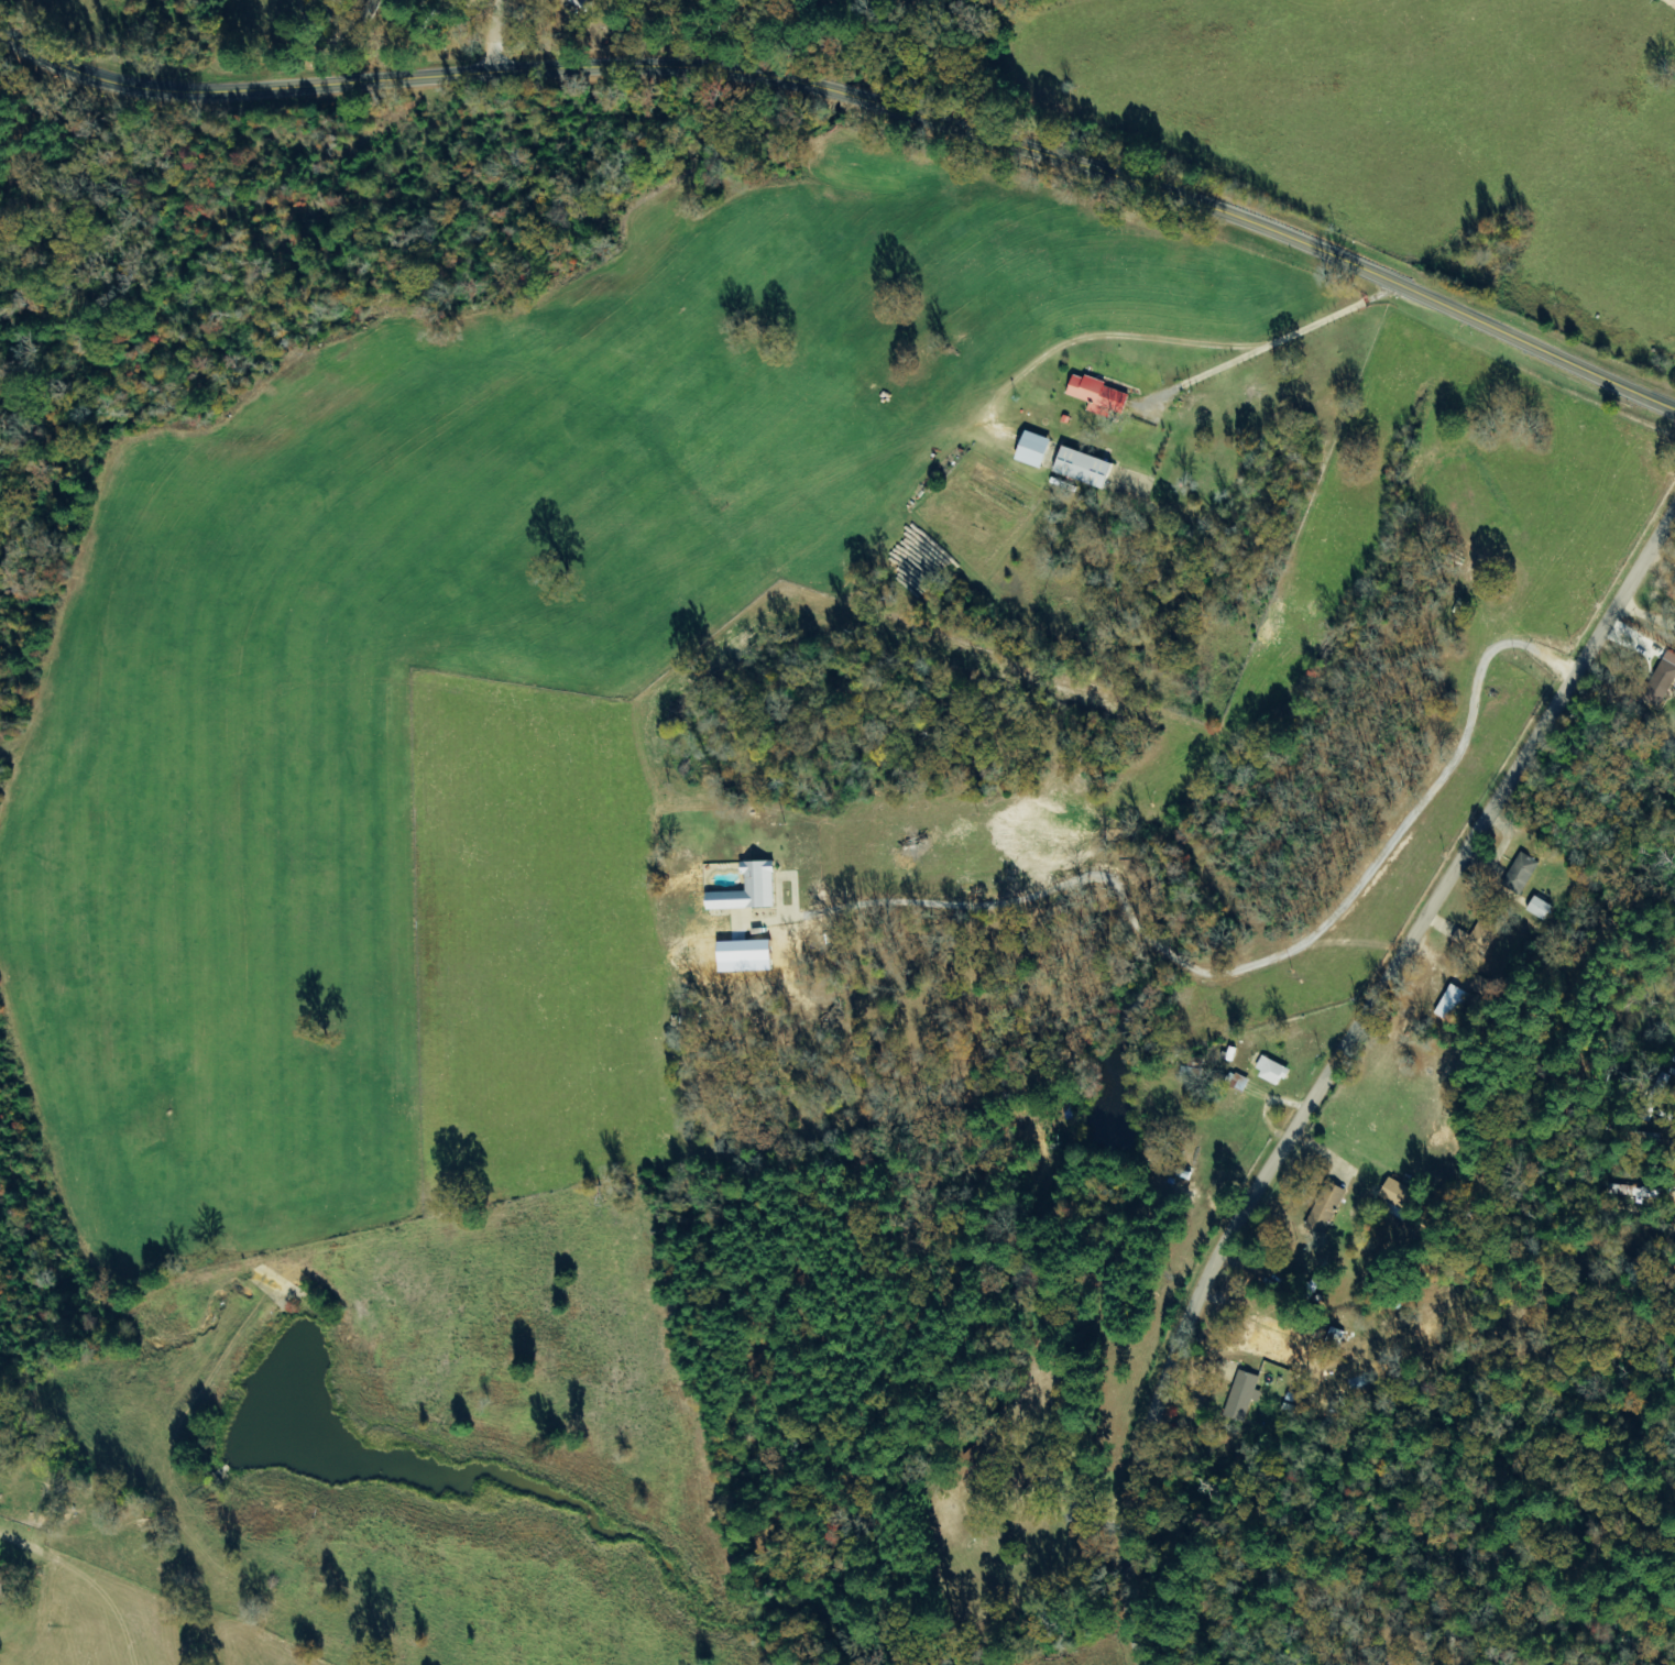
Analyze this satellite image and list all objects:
road: (705, 31)
road: (493, 34)
road: (860, 97)
road: (1263, 332)
building: (1101, 395)
building: (1037, 449)
building: (1086, 467)
building: (1663, 682)
building: (1525, 868)
building: (752, 889)
building: (1542, 908)
building: (1482, 933)
building: (1455, 1005)
road: (1335, 1065)
building: (1272, 1070)
building: (1399, 1193)
building: (1326, 1208)
building: (1245, 1395)
building: (3, 1584)
road: (350, 1592)

